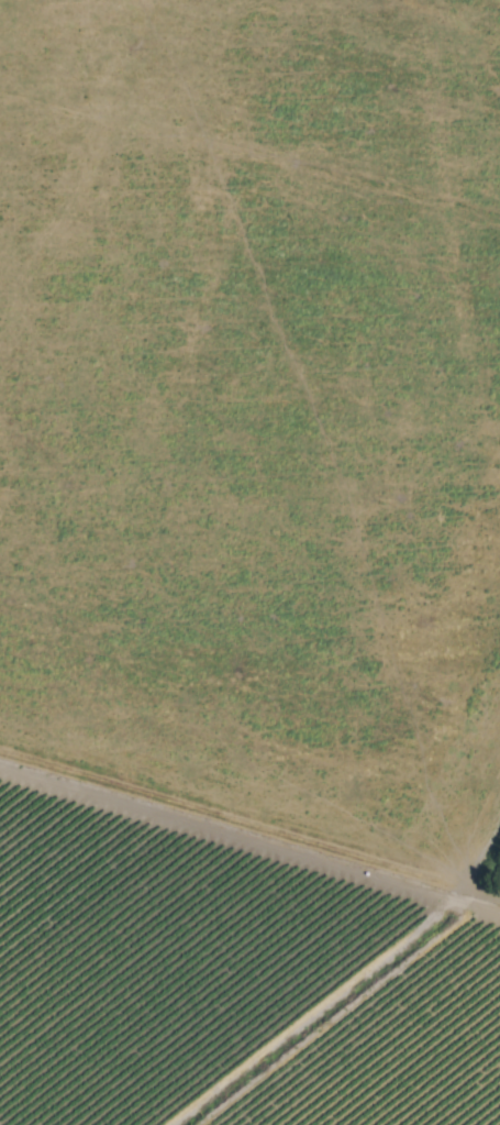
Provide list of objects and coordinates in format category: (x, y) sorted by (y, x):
crop: (249, 562)

